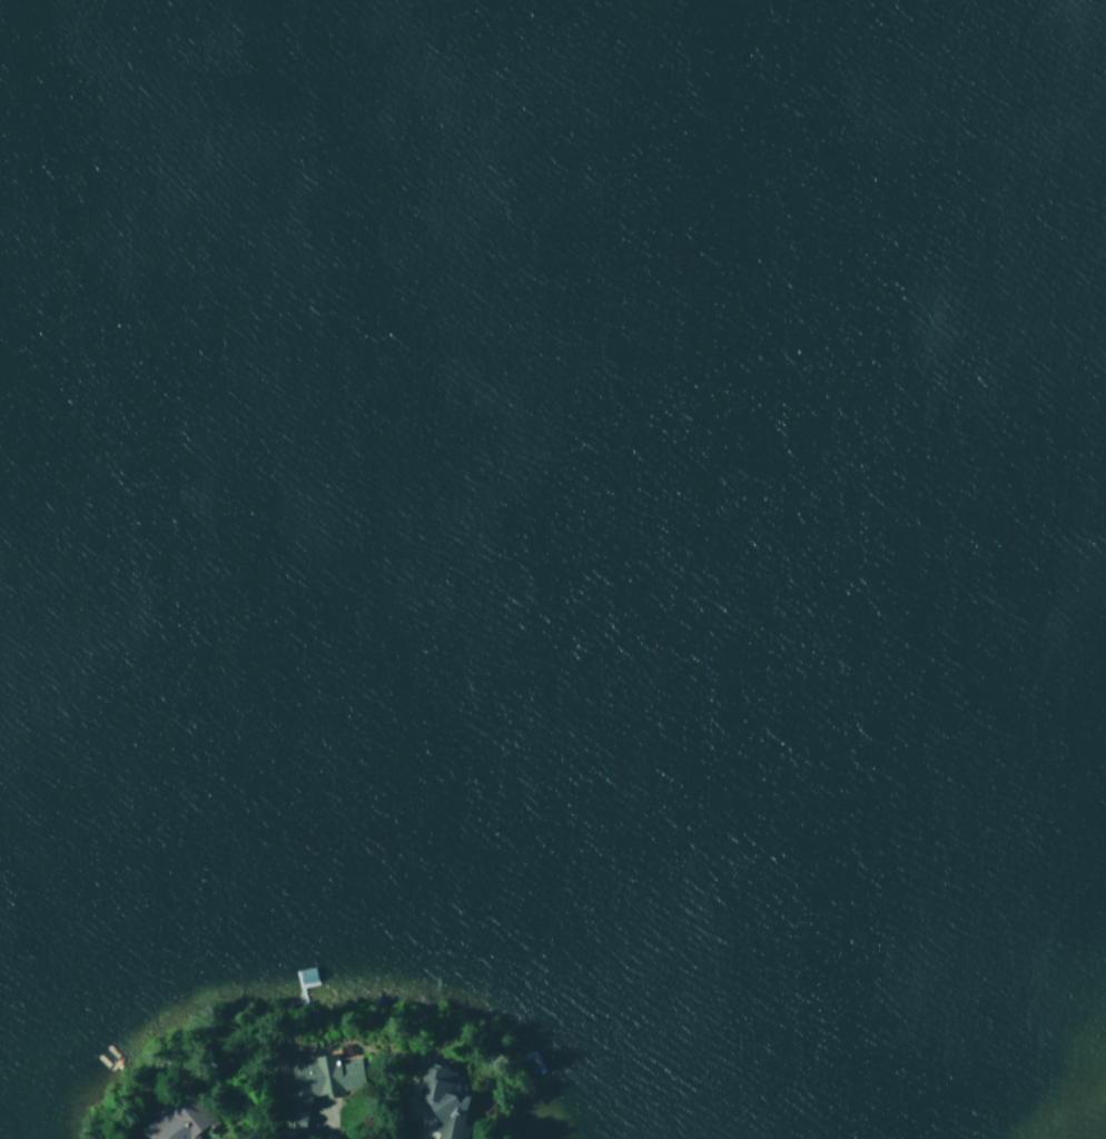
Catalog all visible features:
building: (300, 977)
building: (319, 1078)
building: (444, 1100)
building: (177, 1119)

